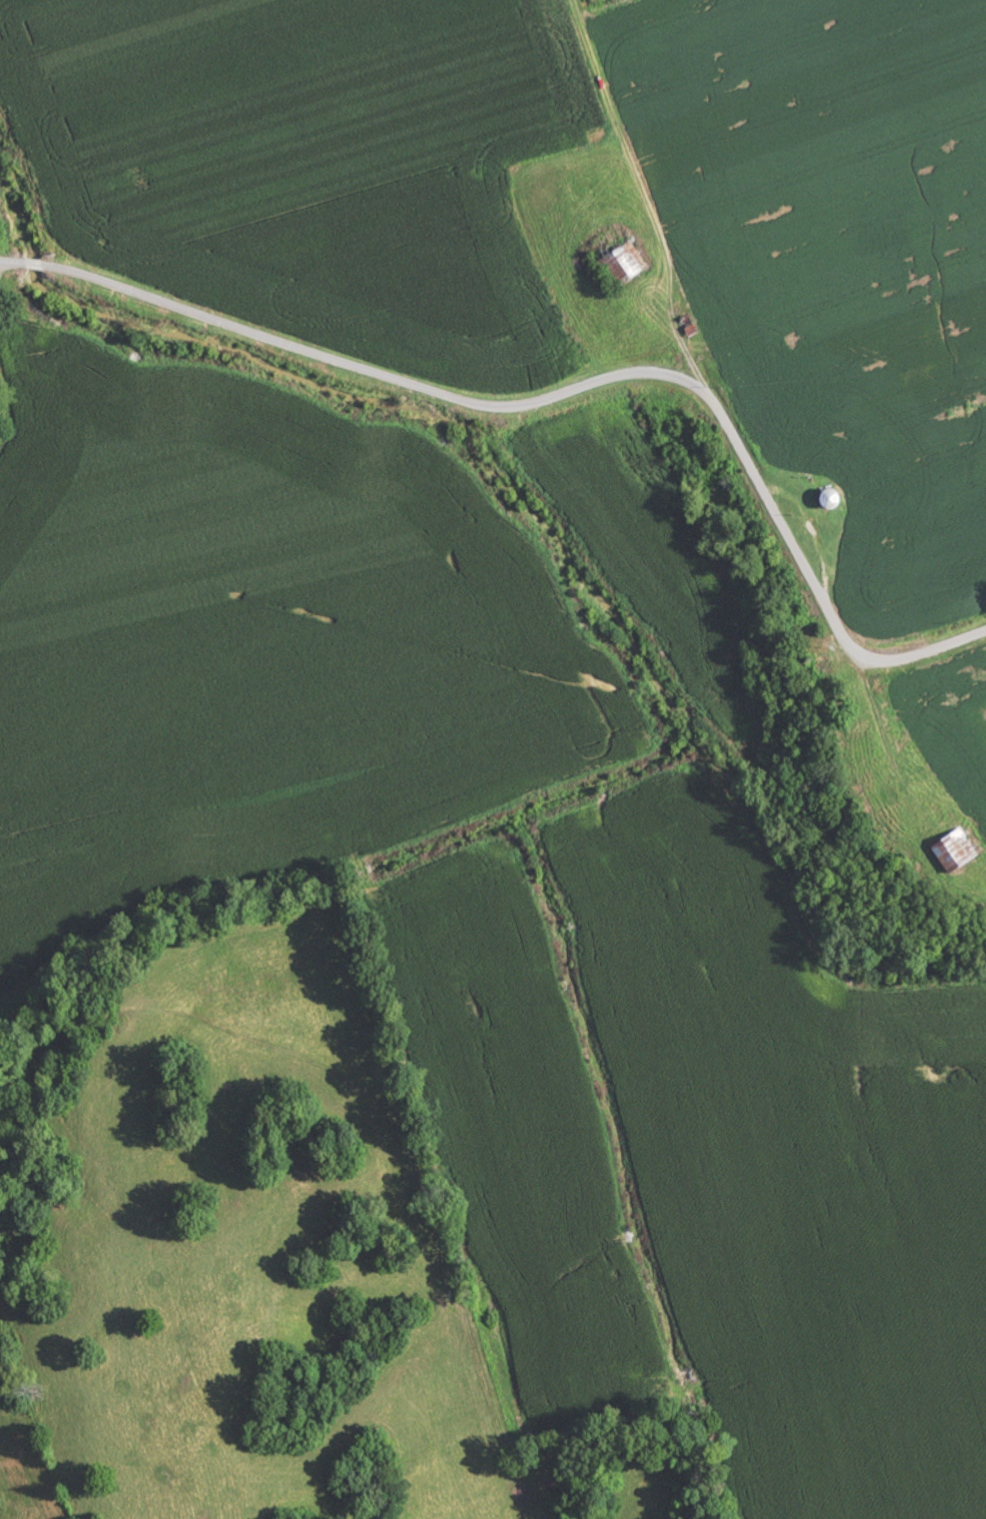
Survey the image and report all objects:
building: (627, 262)
road: (562, 396)
building: (949, 850)

